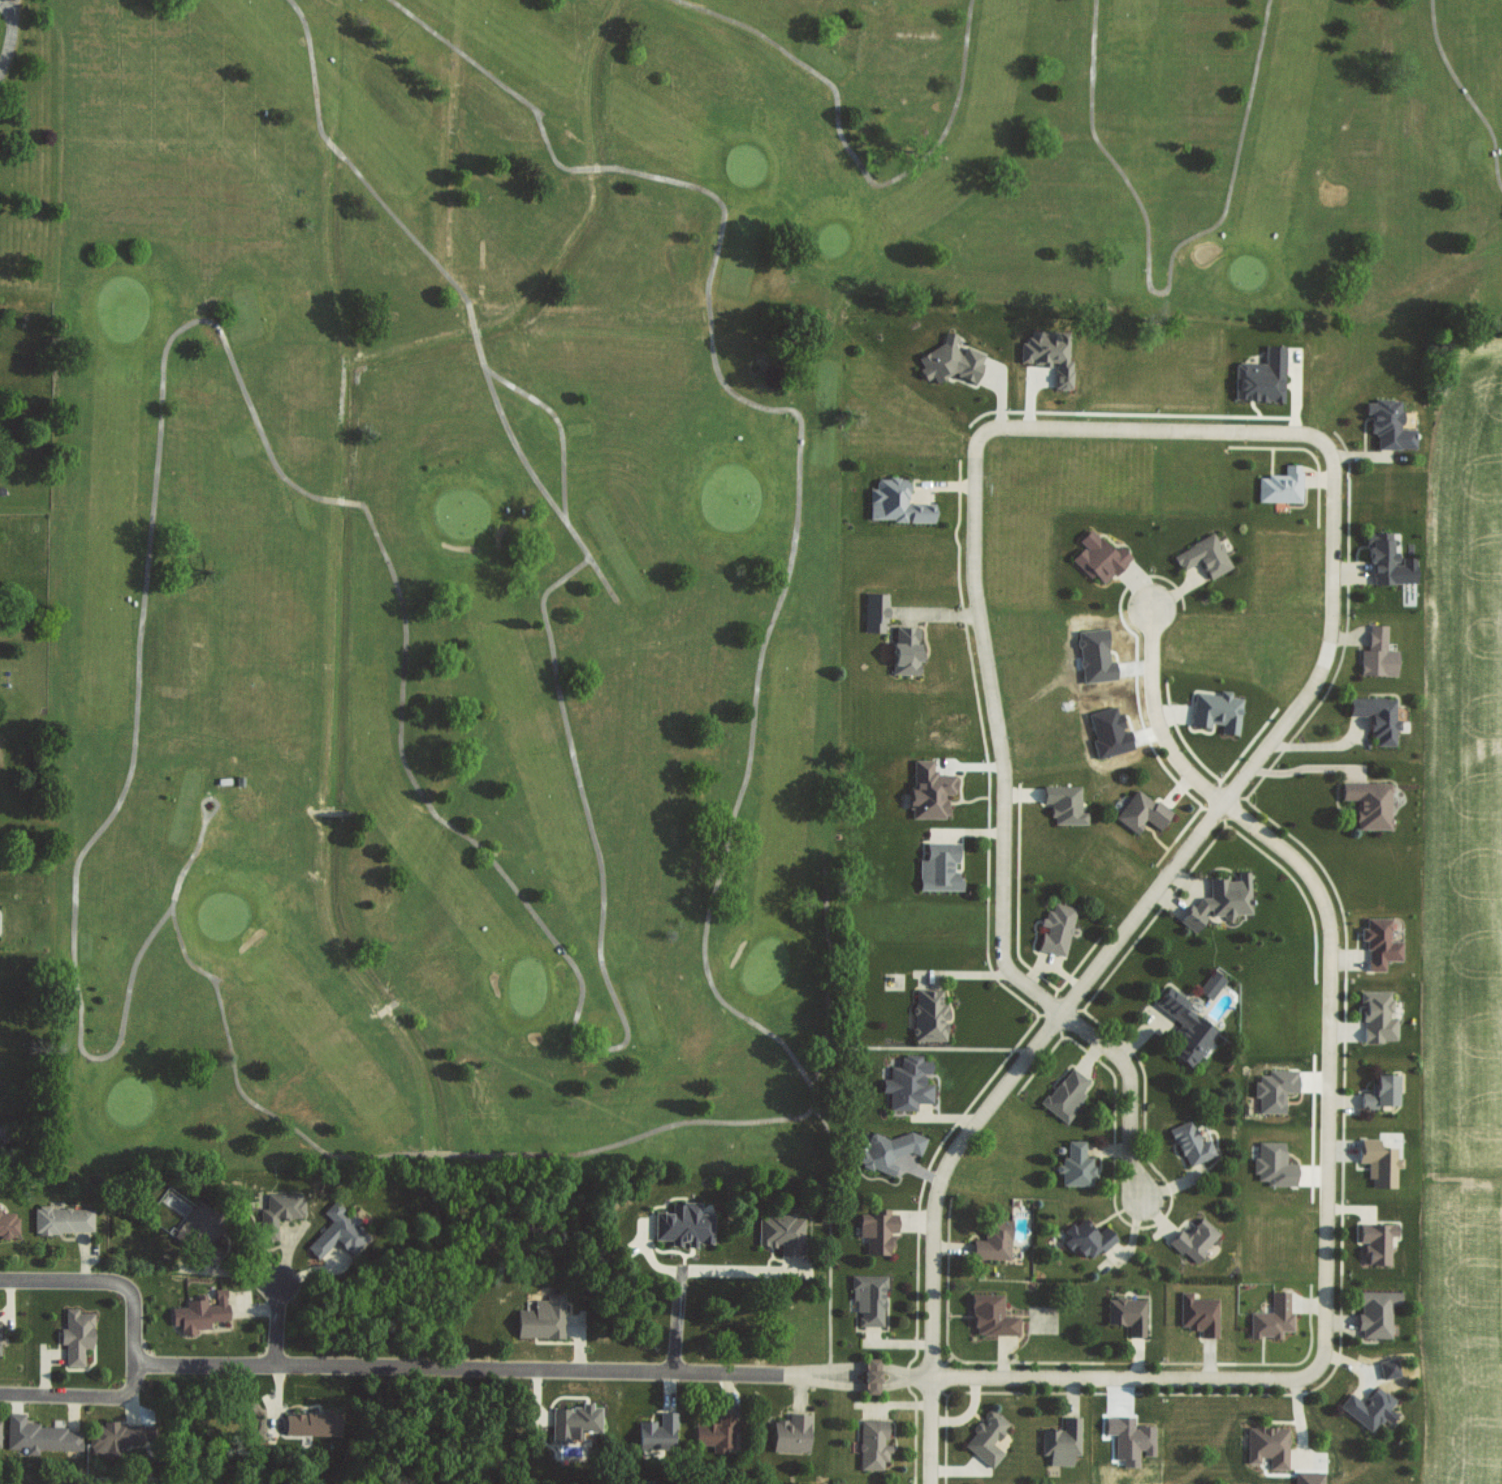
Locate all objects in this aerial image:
road: (12, 37)
road: (12, 37)
road: (12, 37)
road: (466, 57)
road: (1467, 93)
road: (547, 140)
road: (856, 162)
road: (373, 192)
road: (1169, 290)
building: (1048, 353)
building: (950, 360)
building: (1261, 376)
road: (723, 382)
road: (515, 387)
building: (1389, 424)
building: (1281, 485)
building: (896, 502)
park: (608, 503)
building: (1204, 555)
building: (1098, 556)
building: (1388, 560)
road: (604, 580)
road: (406, 611)
building: (875, 612)
building: (906, 650)
building: (1378, 653)
road: (990, 665)
building: (1216, 710)
building: (1377, 716)
building: (929, 791)
building: (1064, 803)
building: (1369, 803)
building: (1141, 811)
road: (1271, 839)
building: (939, 866)
road: (181, 882)
building: (1221, 900)
building: (1056, 928)
building: (1379, 943)
road: (1106, 953)
building: (1211, 984)
road: (733, 1010)
building: (929, 1015)
building: (1377, 1017)
building: (1185, 1028)
road: (926, 1049)
road: (106, 1056)
building: (907, 1083)
building: (1274, 1089)
building: (1382, 1092)
building: (1065, 1094)
building: (1191, 1143)
building: (885, 1149)
road: (466, 1155)
building: (1379, 1162)
building: (1274, 1164)
building: (1076, 1165)
building: (278, 1212)
building: (62, 1219)
building: (8, 1223)
building: (683, 1225)
building: (877, 1230)
building: (202, 1231)
building: (337, 1231)
building: (782, 1233)
road: (831, 1236)
building: (1086, 1238)
building: (994, 1240)
building: (1194, 1240)
building: (1377, 1242)
road: (694, 1271)
road: (105, 1279)
building: (868, 1299)
building: (199, 1312)
building: (1376, 1312)
building: (1127, 1314)
building: (1198, 1314)
building: (991, 1316)
road: (278, 1318)
building: (541, 1318)
building: (1272, 1318)
crop: (1459, 1331)
building: (75, 1335)
road: (207, 1361)
road: (933, 1370)
building: (871, 1376)
road: (81, 1394)
building: (1369, 1408)
building: (575, 1422)
building: (311, 1423)
building: (658, 1432)
building: (717, 1432)
building: (791, 1434)
building: (1133, 1434)
building: (112, 1436)
building: (41, 1437)
building: (986, 1437)
building: (1062, 1442)
building: (872, 1444)
building: (1268, 1445)

